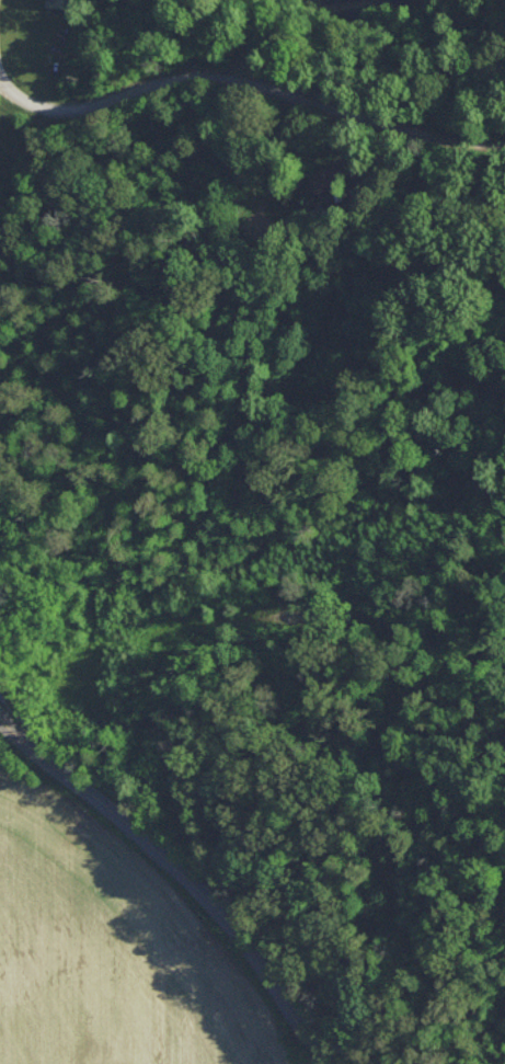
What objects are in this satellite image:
building: (58, 2)
road: (248, 91)
building: (329, 175)
road: (159, 849)

